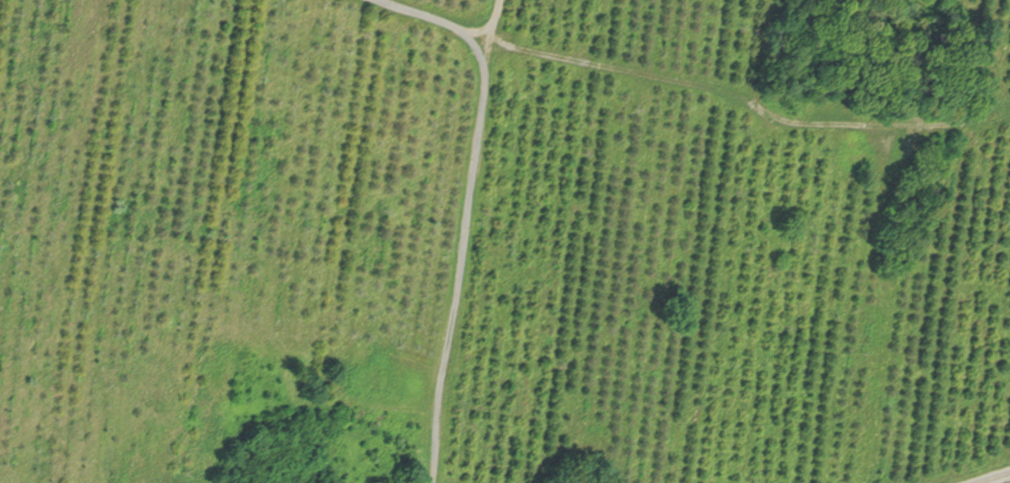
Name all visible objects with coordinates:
road: (486, 23)
road: (749, 93)
road: (470, 212)
railway: (994, 477)

